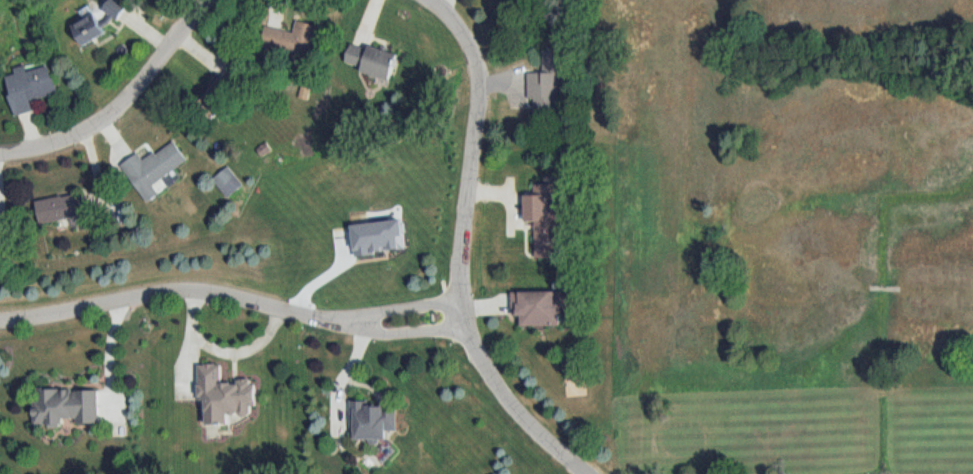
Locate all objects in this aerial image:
building: (99, 20)
building: (294, 41)
building: (373, 62)
building: (31, 88)
road: (117, 98)
building: (547, 99)
building: (154, 170)
building: (229, 182)
building: (60, 209)
building: (545, 220)
park: (794, 231)
road: (463, 251)
road: (233, 291)
building: (540, 310)
building: (226, 398)
building: (67, 409)
building: (376, 424)

